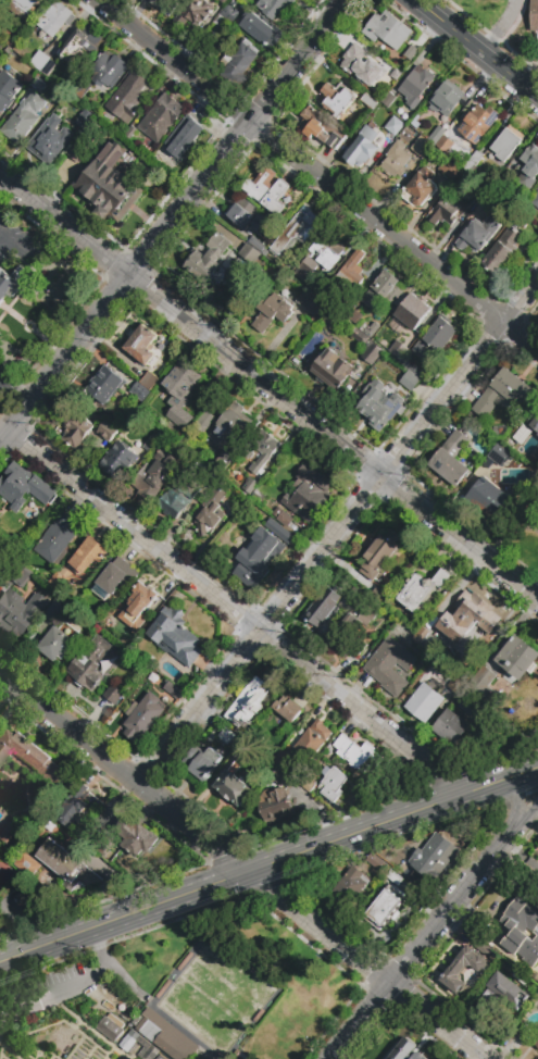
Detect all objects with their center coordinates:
building: (1, 1)
building: (223, 1)
road: (343, 3)
building: (23, 7)
building: (166, 7)
building: (275, 7)
building: (198, 12)
building: (229, 14)
building: (534, 16)
building: (57, 20)
road: (501, 25)
road: (74, 27)
building: (261, 29)
building: (387, 30)
building: (212, 38)
building: (82, 46)
road: (479, 46)
building: (411, 52)
building: (43, 63)
building: (238, 64)
building: (365, 64)
road: (526, 67)
building: (109, 71)
building: (416, 86)
building: (79, 89)
building: (8, 90)
building: (58, 96)
building: (127, 98)
building: (447, 99)
building: (388, 100)
building: (370, 102)
building: (338, 103)
building: (161, 117)
building: (24, 119)
building: (84, 119)
building: (478, 123)
building: (396, 126)
building: (320, 128)
building: (92, 130)
building: (129, 134)
building: (436, 136)
building: (183, 137)
building: (50, 140)
building: (505, 145)
building: (362, 147)
building: (422, 147)
building: (447, 147)
building: (77, 152)
building: (397, 160)
building: (529, 167)
building: (450, 170)
road: (317, 175)
building: (109, 182)
road: (3, 185)
building: (421, 188)
building: (267, 190)
building: (535, 200)
building: (491, 202)
road: (161, 204)
building: (445, 211)
building: (241, 213)
road: (171, 222)
building: (347, 223)
building: (522, 223)
building: (298, 229)
road: (185, 233)
building: (478, 235)
building: (257, 245)
building: (328, 251)
building: (503, 251)
building: (249, 253)
building: (209, 258)
building: (291, 266)
building: (309, 266)
building: (351, 270)
building: (11, 284)
building: (384, 292)
building: (285, 294)
building: (311, 303)
building: (413, 311)
building: (343, 312)
building: (272, 313)
building: (355, 316)
building: (370, 329)
building: (437, 336)
building: (141, 346)
building: (367, 348)
building: (400, 352)
building: (331, 370)
building: (414, 370)
building: (411, 381)
building: (149, 382)
building: (104, 385)
road: (268, 386)
building: (139, 391)
building: (208, 391)
building: (180, 394)
building: (504, 394)
building: (379, 404)
building: (204, 421)
building: (534, 422)
building: (138, 423)
building: (230, 425)
building: (75, 428)
building: (107, 433)
building: (523, 435)
building: (260, 452)
building: (499, 454)
building: (451, 460)
building: (118, 461)
building: (225, 462)
building: (155, 475)
building: (24, 487)
building: (251, 490)
building: (309, 493)
building: (178, 498)
building: (491, 500)
building: (209, 514)
road: (338, 532)
building: (55, 538)
building: (12, 552)
building: (379, 555)
building: (259, 559)
building: (80, 563)
building: (23, 577)
building: (115, 578)
building: (422, 589)
building: (380, 598)
building: (467, 606)
building: (137, 607)
building: (323, 607)
building: (54, 609)
building: (18, 611)
road: (237, 614)
building: (355, 631)
building: (175, 637)
building: (426, 637)
building: (60, 639)
building: (517, 656)
building: (92, 664)
building: (390, 665)
building: (483, 683)
building: (173, 689)
building: (114, 695)
building: (248, 701)
building: (425, 701)
building: (470, 705)
building: (288, 709)
building: (143, 717)
building: (452, 728)
building: (228, 737)
building: (254, 739)
building: (311, 743)
building: (356, 753)
building: (33, 759)
building: (203, 762)
road: (124, 775)
building: (279, 777)
building: (308, 782)
building: (333, 785)
building: (234, 786)
building: (276, 806)
building: (73, 807)
road: (517, 809)
road: (392, 823)
road: (523, 823)
building: (8, 833)
building: (137, 839)
building: (433, 858)
building: (376, 862)
building: (26, 865)
building: (67, 867)
building: (395, 877)
building: (350, 887)
building: (385, 908)
road: (123, 919)
building: (523, 932)
building: (481, 947)
road: (417, 948)
road: (99, 949)
building: (185, 961)
road: (364, 967)
building: (463, 969)
building: (257, 973)
parking lot: (66, 974)
park: (242, 982)
building: (504, 986)
building: (164, 988)
road: (51, 994)
park: (214, 999)
building: (259, 1016)
road: (53, 1023)
road: (76, 1024)
road: (87, 1027)
building: (110, 1027)
building: (165, 1036)
building: (129, 1041)
building: (537, 1045)
road: (74, 1047)
road: (20, 1049)
road: (10, 1050)
road: (89, 1051)
road: (108, 1052)
building: (147, 1052)
road: (53, 1054)
road: (3, 1056)
building: (406, 1056)
road: (109, 1057)
building: (161, 1057)

